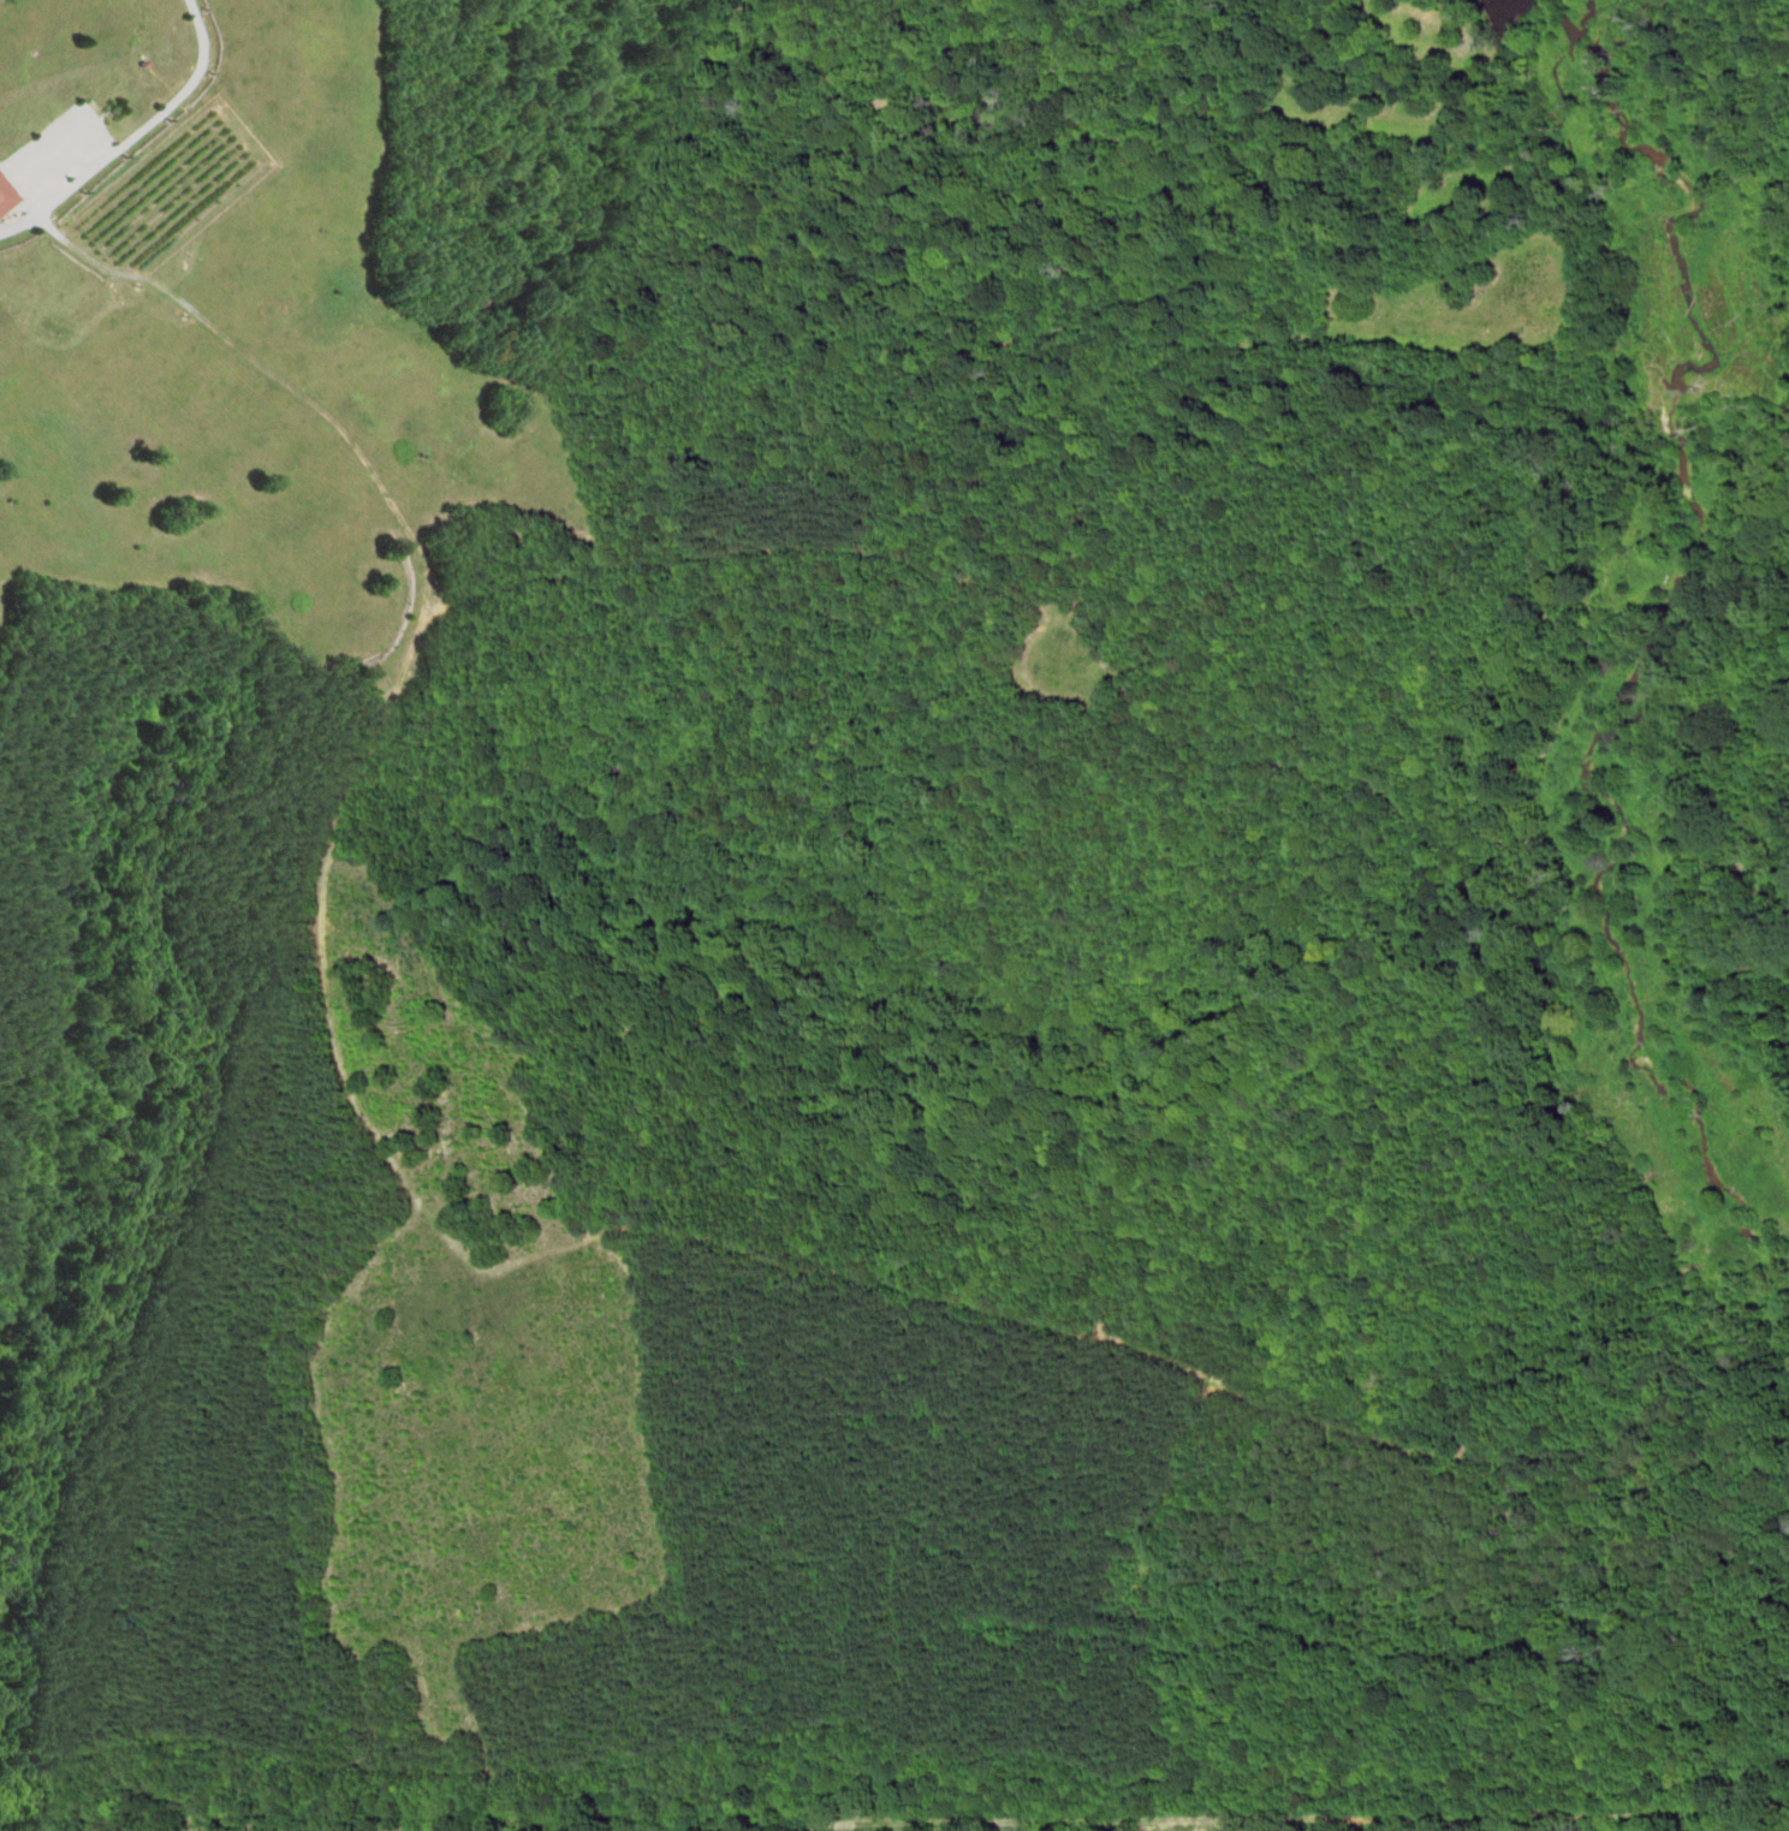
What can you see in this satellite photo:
road: (144, 123)
building: (1, 196)
road: (14, 222)

